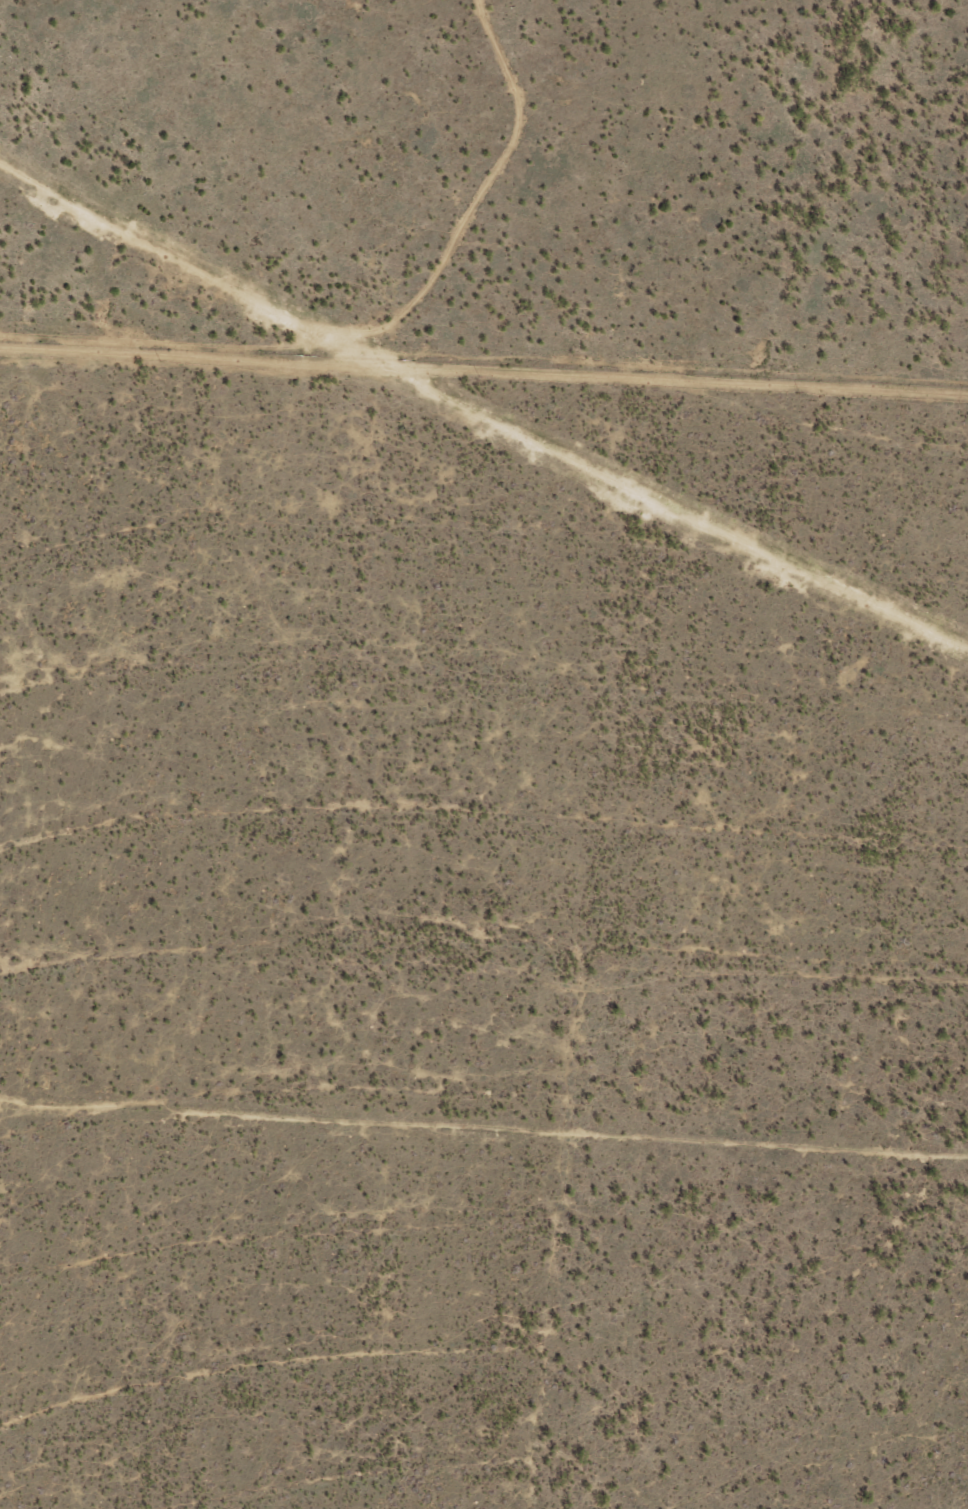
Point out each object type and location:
road: (860, 1459)

